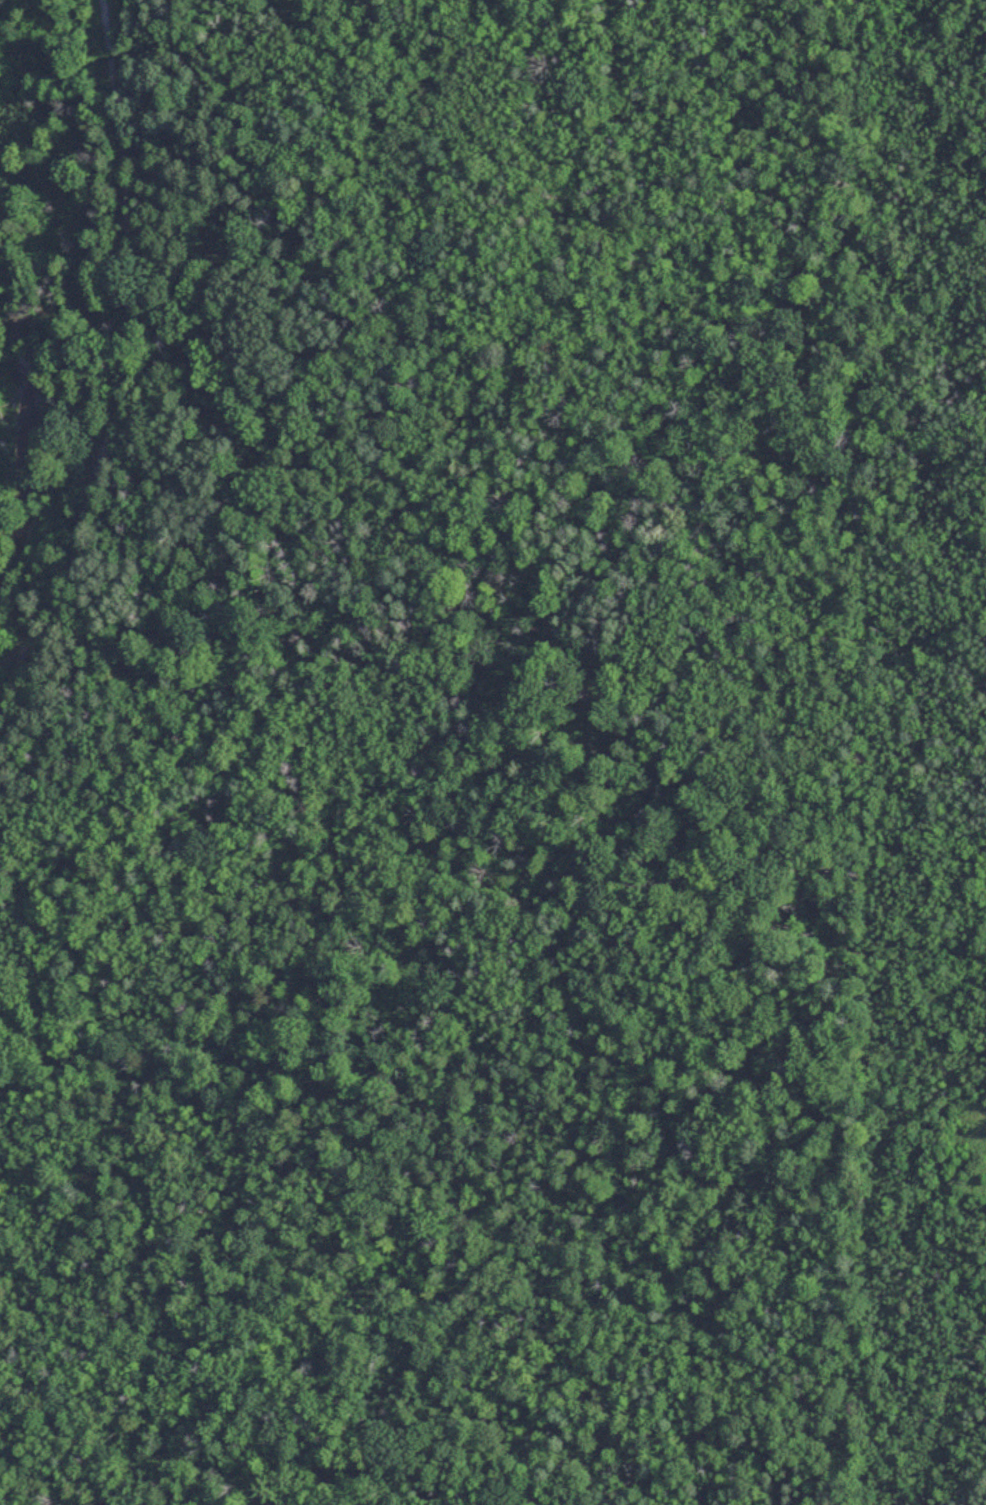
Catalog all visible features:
road: (137, 368)

